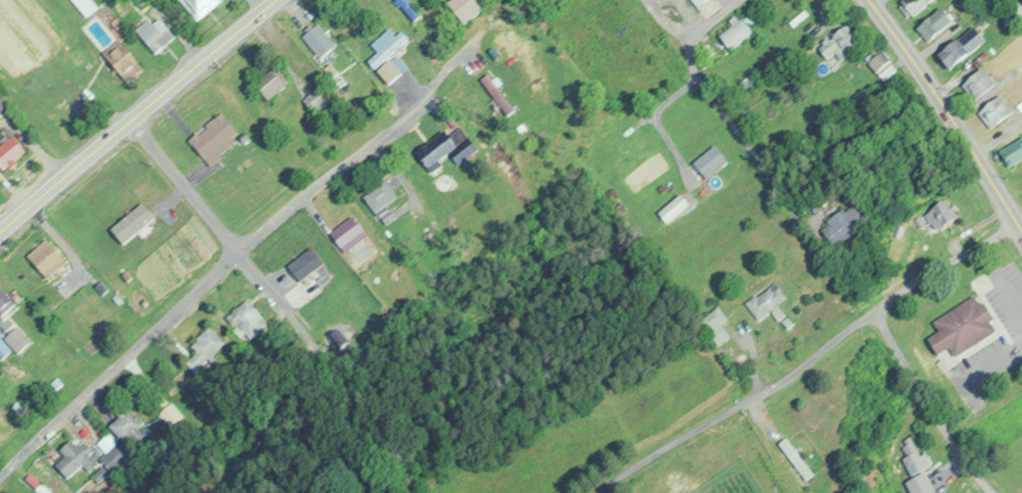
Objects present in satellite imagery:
building: (703, 3)
road: (875, 3)
road: (255, 5)
building: (86, 6)
building: (912, 6)
building: (200, 7)
building: (467, 7)
building: (408, 8)
building: (1014, 13)
building: (936, 22)
road: (704, 23)
building: (740, 30)
building: (155, 33)
building: (319, 40)
building: (841, 43)
building: (956, 52)
building: (123, 59)
road: (683, 59)
building: (883, 63)
building: (272, 82)
building: (981, 83)
building: (315, 99)
building: (996, 111)
road: (135, 112)
road: (948, 116)
road: (996, 134)
building: (215, 137)
building: (446, 147)
building: (1013, 152)
building: (712, 160)
building: (382, 199)
building: (937, 217)
road: (264, 223)
building: (851, 225)
building: (349, 233)
building: (47, 257)
building: (306, 263)
building: (5, 300)
building: (770, 302)
building: (249, 317)
building: (960, 324)
building: (716, 325)
building: (16, 339)
building: (203, 348)
road: (802, 355)
road: (116, 360)
road: (927, 404)
building: (168, 412)
building: (126, 425)
building: (111, 452)
building: (74, 457)
building: (918, 465)

